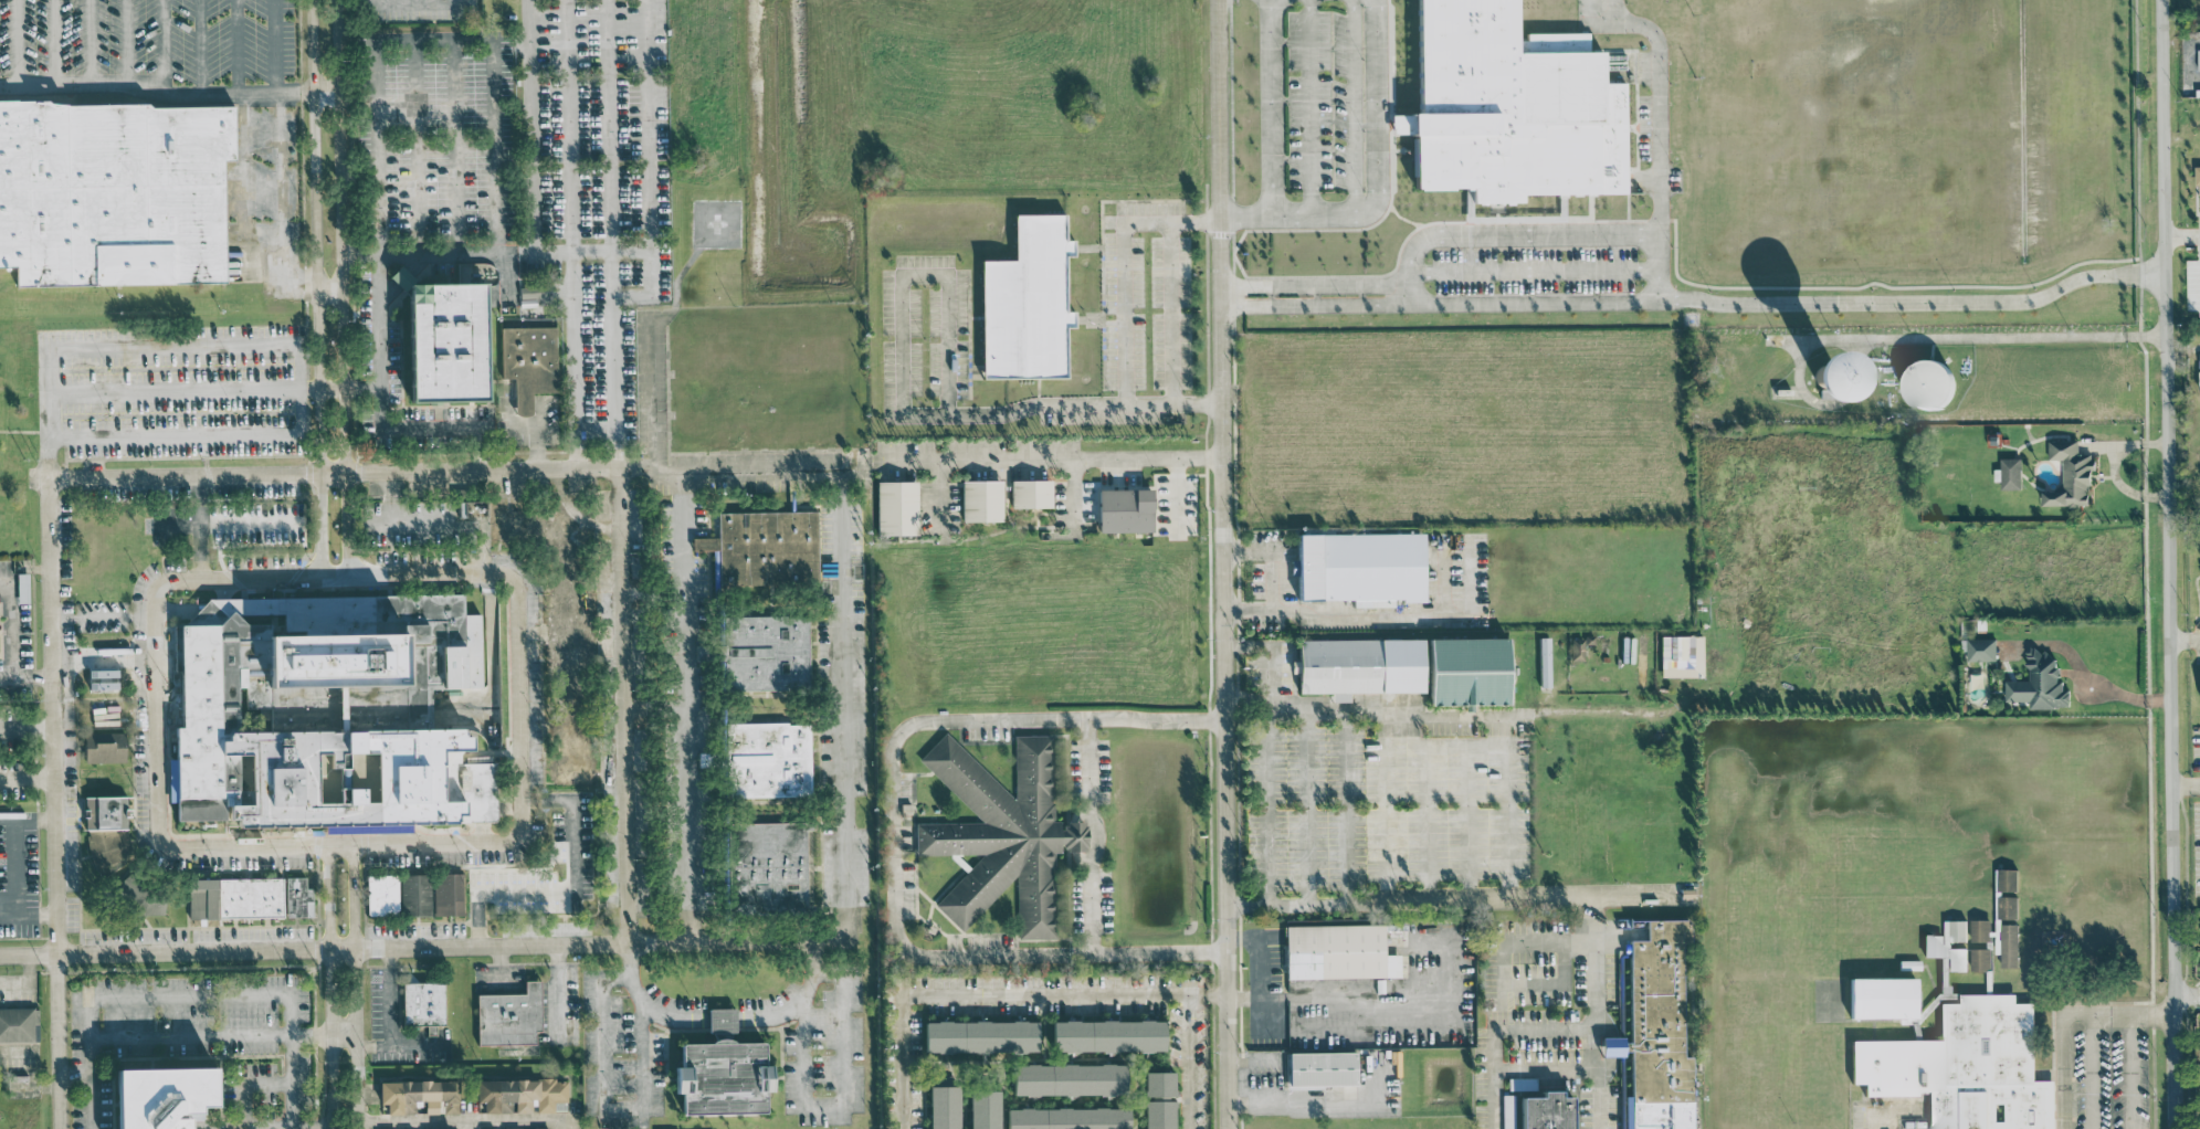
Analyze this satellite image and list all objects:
road: (413, 7)
road: (430, 40)
road: (2180, 43)
road: (17, 45)
road: (53, 45)
road: (88, 45)
road: (123, 45)
road: (160, 45)
road: (198, 45)
parking lot: (154, 48)
building: (2198, 59)
road: (2192, 64)
road: (157, 91)
road: (326, 91)
road: (1657, 98)
building: (1506, 106)
road: (1270, 108)
road: (1308, 108)
road: (1355, 108)
road: (567, 126)
road: (240, 133)
road: (494, 146)
road: (533, 146)
road: (608, 147)
road: (413, 148)
road: (453, 148)
road: (276, 158)
road: (648, 166)
building: (2197, 177)
parking lot: (543, 178)
road: (359, 179)
road: (1376, 182)
building: (109, 191)
road: (1400, 219)
helipad: (717, 223)
road: (1506, 234)
road: (2181, 235)
road: (610, 251)
road: (475, 254)
road: (360, 258)
road: (1659, 267)
road: (1533, 270)
road: (1314, 284)
road: (316, 287)
road: (341, 287)
road: (329, 288)
building: (1021, 302)
road: (1439, 302)
road: (1914, 302)
road: (1171, 309)
road: (1126, 313)
road: (1994, 336)
road: (380, 337)
building: (443, 345)
road: (2182, 352)
road: (573, 359)
building: (2198, 359)
building: (525, 361)
road: (901, 366)
building: (1801, 370)
building: (2198, 377)
road: (613, 380)
building: (1923, 383)
road: (48, 388)
road: (330, 388)
road: (310, 389)
road: (175, 390)
parking lot: (170, 391)
road: (656, 398)
road: (536, 434)
road: (1040, 460)
road: (739, 465)
road: (336, 472)
building: (2007, 473)
building: (2067, 474)
building: (1029, 493)
road: (1223, 497)
building: (978, 499)
building: (894, 507)
building: (1119, 509)
building: (538, 536)
building: (2199, 548)
building: (766, 549)
road: (2170, 563)
building: (1357, 567)
road: (1273, 580)
building: (20, 588)
road: (1320, 611)
road: (101, 619)
building: (565, 631)
road: (2186, 639)
road: (10, 644)
building: (1578, 647)
building: (1979, 648)
building: (760, 654)
building: (1680, 655)
building: (1641, 661)
road: (1277, 667)
building: (1404, 667)
road: (6, 675)
road: (2082, 676)
building: (97, 678)
building: (2036, 682)
building: (2199, 689)
road: (688, 705)
road: (629, 706)
road: (518, 707)
building: (324, 713)
road: (152, 714)
road: (52, 715)
road: (1463, 715)
road: (25, 727)
building: (99, 747)
building: (764, 760)
building: (568, 770)
road: (846, 773)
road: (27, 778)
road: (2186, 785)
road: (1269, 800)
building: (101, 812)
building: (997, 833)
road: (1094, 834)
road: (894, 842)
road: (14, 851)
building: (767, 863)
building: (2004, 878)
road: (566, 887)
building: (379, 894)
building: (412, 894)
building: (445, 894)
building: (231, 897)
building: (294, 897)
road: (1579, 903)
building: (2006, 906)
road: (27, 916)
building: (2199, 928)
building: (1979, 929)
building: (1997, 935)
building: (1947, 945)
building: (2008, 945)
road: (346, 949)
building: (1335, 952)
building: (1980, 958)
road: (1260, 979)
road: (354, 985)
road: (328, 986)
road: (558, 992)
road: (1194, 993)
road: (976, 994)
road: (1215, 994)
road: (2188, 995)
road: (233, 998)
building: (1880, 998)
road: (798, 1002)
building: (419, 1003)
road: (648, 1004)
road: (389, 1012)
road: (2062, 1013)
building: (505, 1015)
road: (722, 1022)
building: (17, 1025)
building: (1653, 1031)
building: (1102, 1035)
road: (310, 1036)
building: (977, 1036)
road: (341, 1040)
road: (56, 1041)
road: (1186, 1061)
road: (1228, 1062)
building: (1962, 1067)
building: (1318, 1068)
road: (2092, 1070)
road: (2129, 1070)
road: (72, 1074)
parking lot: (2109, 1076)
building: (1062, 1078)
building: (165, 1095)
building: (517, 1095)
building: (413, 1096)
building: (1154, 1100)
road: (1304, 1100)
road: (840, 1106)
building: (938, 1107)
building: (1537, 1107)
road: (1888, 1107)
road: (602, 1109)
building: (979, 1109)
building: (1056, 1118)
road: (467, 1120)
road: (306, 1126)
road: (191, 1128)
building: (501, 1128)
building: (537, 1128)

